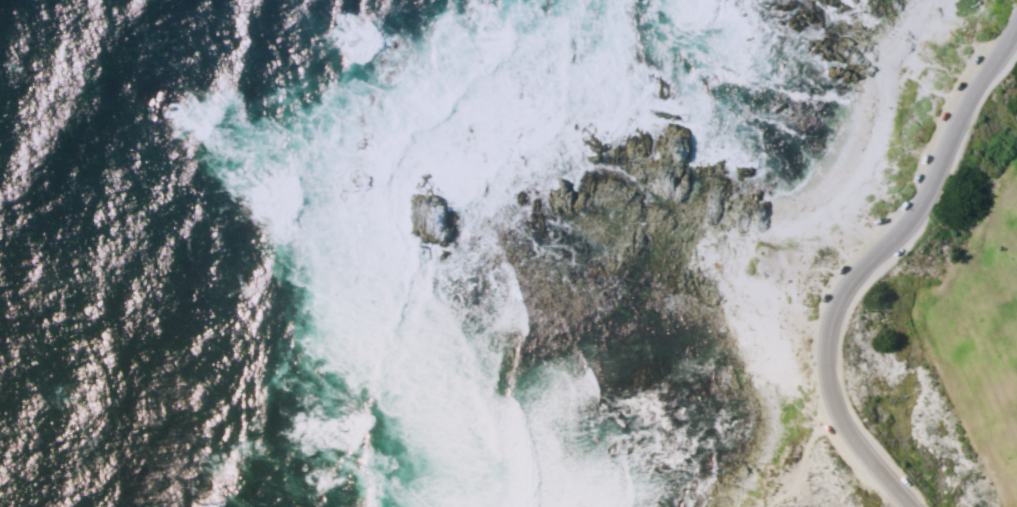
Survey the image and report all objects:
road: (866, 261)
park: (949, 330)
road: (801, 461)

